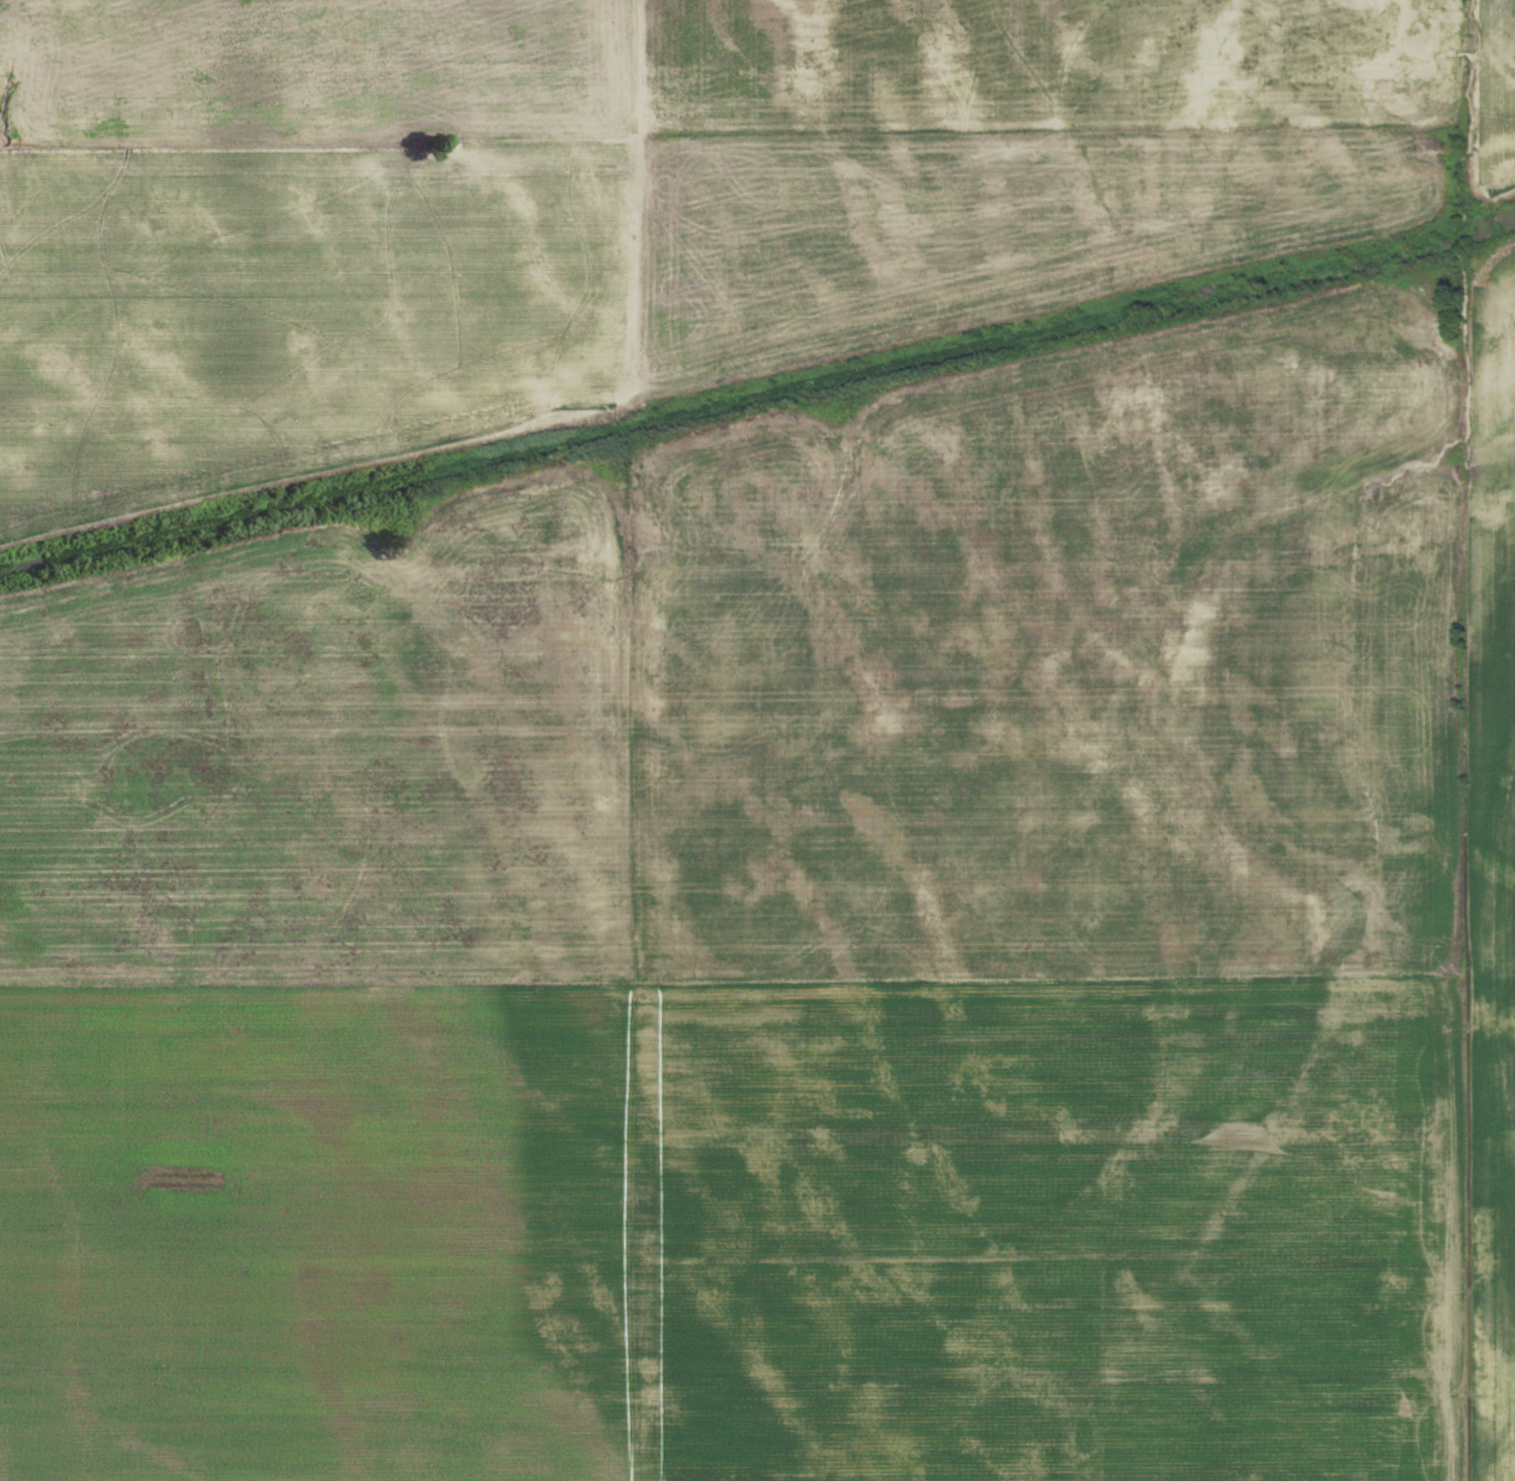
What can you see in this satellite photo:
road: (1494, 971)

